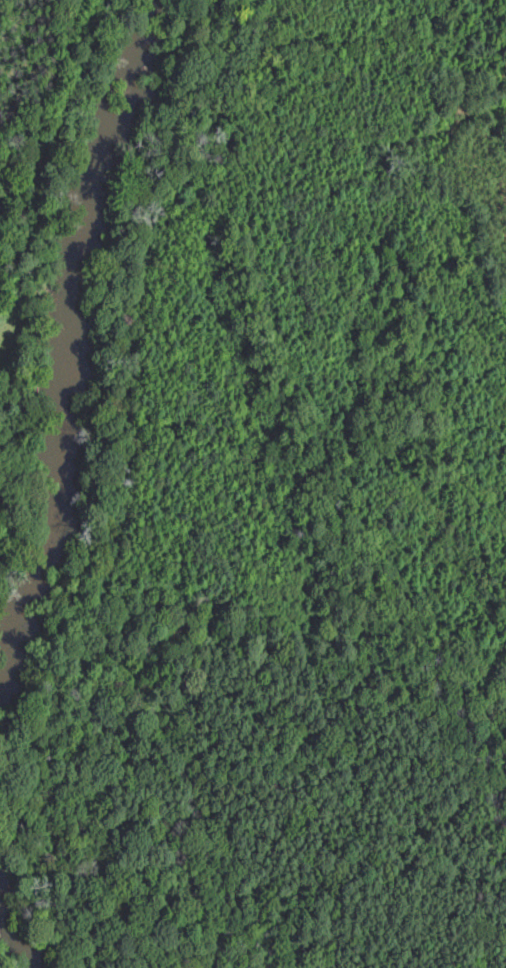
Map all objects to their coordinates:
road: (434, 157)
river: (64, 326)
river: (20, 938)

